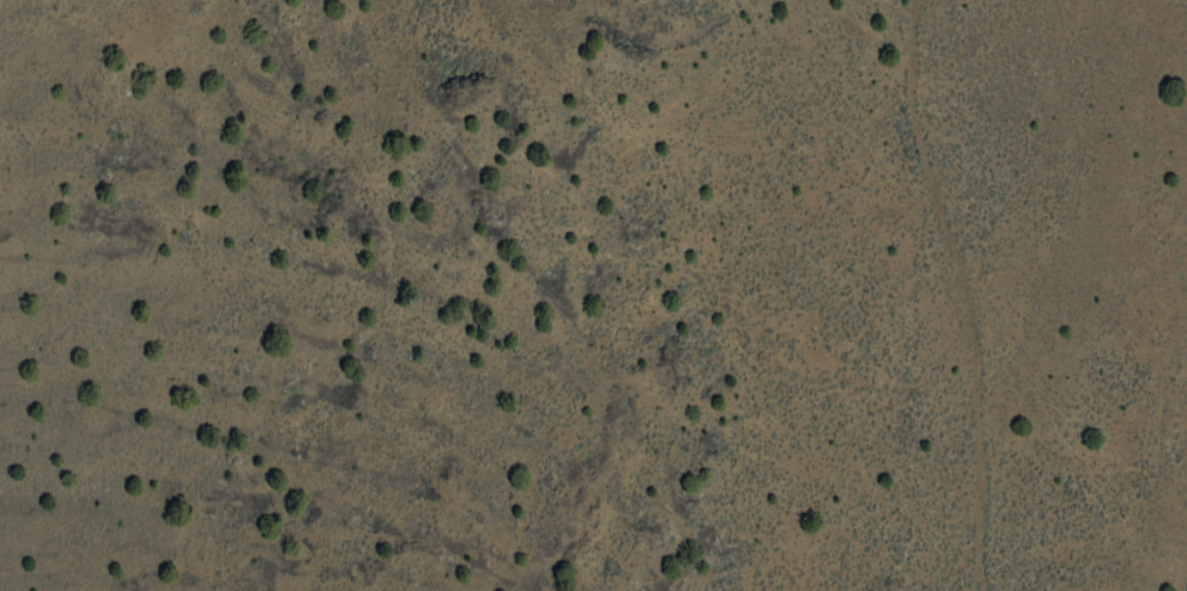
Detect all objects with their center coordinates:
road: (973, 291)

